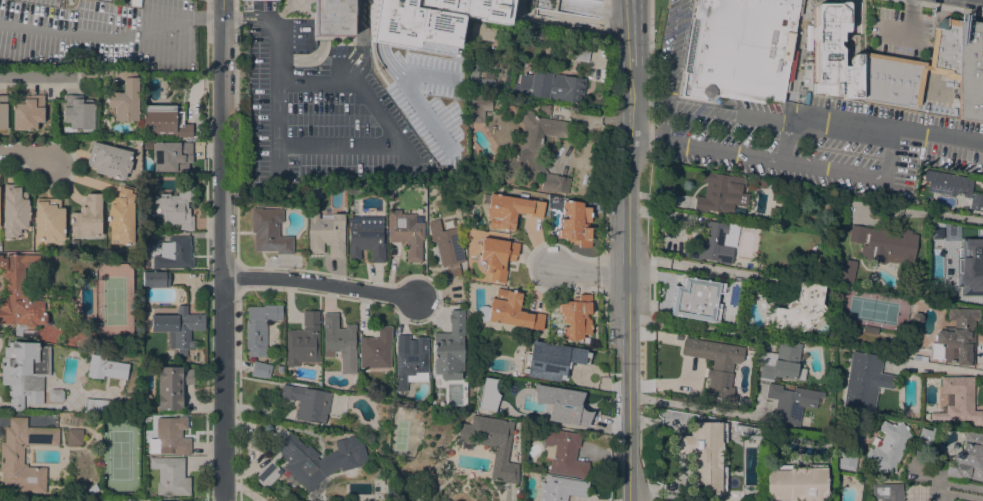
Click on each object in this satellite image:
building: (598, 0)
building: (539, 1)
building: (551, 4)
road: (206, 7)
road: (938, 7)
road: (519, 11)
building: (332, 17)
building: (431, 21)
road: (908, 28)
building: (481, 31)
road: (633, 32)
road: (112, 35)
road: (360, 37)
building: (739, 49)
building: (581, 52)
building: (834, 53)
road: (650, 70)
building: (970, 70)
road: (279, 73)
road: (34, 76)
building: (477, 80)
building: (168, 81)
road: (317, 82)
building: (550, 86)
building: (124, 98)
building: (544, 107)
building: (478, 108)
building: (555, 108)
road: (712, 109)
road: (377, 111)
building: (3, 112)
building: (28, 112)
building: (77, 113)
road: (863, 121)
building: (164, 122)
road: (585, 130)
road: (235, 138)
building: (146, 144)
road: (336, 150)
building: (536, 151)
road: (26, 152)
building: (172, 156)
building: (109, 160)
road: (784, 163)
building: (144, 181)
building: (761, 183)
building: (954, 187)
building: (354, 188)
building: (315, 189)
building: (720, 193)
building: (174, 207)
building: (509, 209)
building: (14, 211)
building: (121, 215)
building: (87, 217)
building: (49, 219)
building: (575, 223)
building: (447, 224)
building: (269, 231)
building: (326, 233)
building: (406, 233)
building: (365, 238)
building: (715, 242)
building: (884, 244)
building: (446, 246)
road: (222, 250)
building: (174, 254)
building: (497, 256)
building: (964, 259)
road: (589, 270)
building: (847, 270)
building: (155, 279)
road: (629, 282)
road: (319, 284)
building: (19, 293)
building: (697, 299)
building: (800, 309)
building: (509, 311)
building: (575, 317)
building: (177, 327)
building: (259, 328)
building: (869, 329)
building: (957, 337)
building: (303, 340)
building: (339, 342)
building: (450, 348)
building: (375, 349)
building: (935, 352)
building: (552, 360)
building: (410, 361)
building: (781, 362)
building: (106, 367)
building: (719, 367)
building: (260, 369)
road: (940, 369)
building: (24, 372)
building: (864, 381)
building: (171, 385)
building: (488, 393)
building: (55, 394)
building: (959, 401)
building: (307, 402)
building: (561, 404)
building: (790, 404)
building: (103, 406)
road: (705, 408)
building: (280, 430)
building: (749, 431)
building: (74, 436)
building: (170, 436)
building: (492, 443)
building: (888, 447)
building: (564, 453)
building: (11, 455)
building: (704, 455)
building: (845, 459)
building: (967, 460)
building: (312, 461)
building: (170, 476)
road: (931, 480)
building: (795, 483)
building: (561, 489)
building: (886, 492)
building: (406, 500)

